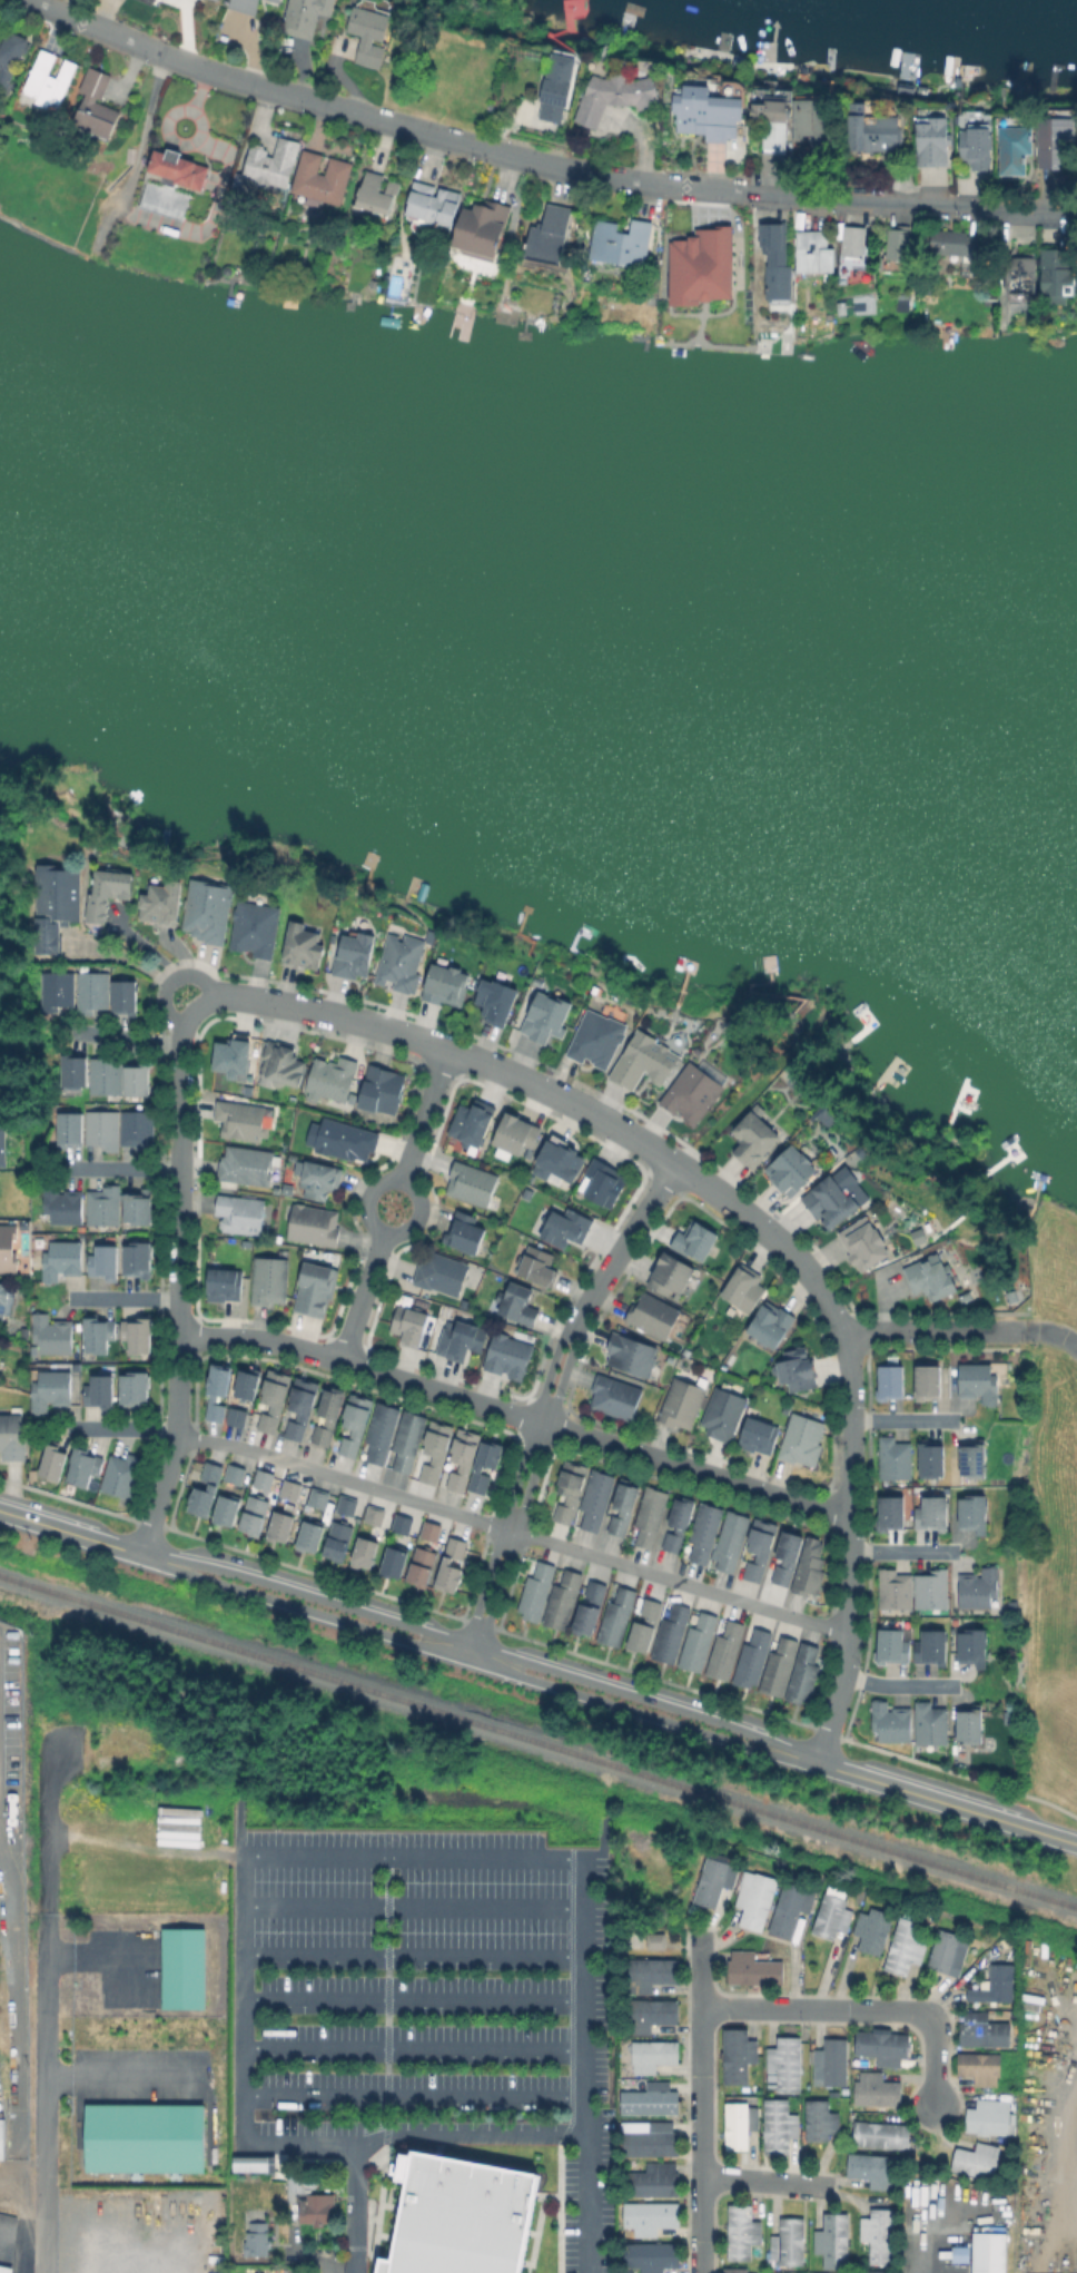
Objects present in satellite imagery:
building: (274, 1)
building: (146, 2)
building: (243, 6)
building: (304, 17)
building: (368, 36)
building: (11, 58)
building: (737, 61)
building: (49, 81)
building: (555, 90)
building: (903, 90)
building: (615, 98)
building: (95, 105)
building: (769, 112)
building: (707, 114)
building: (812, 128)
building: (872, 132)
building: (1053, 139)
building: (931, 142)
building: (975, 147)
building: (1015, 151)
road: (541, 164)
building: (268, 165)
building: (175, 171)
building: (319, 180)
building: (374, 196)
building: (429, 205)
building: (478, 232)
building: (546, 236)
building: (849, 240)
building: (897, 242)
building: (619, 244)
building: (947, 247)
building: (812, 254)
building: (774, 262)
building: (699, 266)
building: (1055, 274)
building: (1018, 277)
building: (902, 298)
building: (990, 299)
building: (840, 308)
building: (106, 888)
building: (55, 901)
building: (159, 901)
building: (206, 907)
building: (251, 928)
building: (299, 946)
building: (352, 955)
building: (398, 963)
road: (137, 966)
building: (444, 984)
building: (55, 986)
building: (91, 988)
building: (125, 994)
building: (493, 1001)
building: (543, 1017)
road: (125, 1039)
building: (593, 1039)
building: (233, 1049)
building: (645, 1057)
building: (278, 1065)
building: (73, 1067)
building: (105, 1071)
building: (137, 1074)
building: (328, 1079)
road: (534, 1085)
building: (378, 1089)
building: (692, 1094)
road: (424, 1115)
building: (241, 1119)
building: (470, 1122)
building: (67, 1129)
building: (99, 1129)
building: (135, 1129)
building: (513, 1135)
building: (755, 1135)
building: (339, 1140)
building: (2, 1142)
building: (555, 1160)
building: (245, 1164)
building: (792, 1165)
road: (123, 1169)
building: (315, 1178)
road: (401, 1181)
building: (599, 1182)
building: (468, 1183)
building: (276, 1189)
building: (831, 1198)
building: (59, 1204)
building: (100, 1206)
building: (135, 1209)
building: (239, 1211)
building: (310, 1224)
building: (563, 1227)
building: (462, 1231)
building: (696, 1237)
building: (36, 1242)
building: (866, 1242)
building: (8, 1246)
building: (136, 1256)
building: (61, 1257)
building: (102, 1257)
building: (535, 1266)
building: (442, 1270)
building: (671, 1271)
building: (932, 1276)
building: (224, 1280)
building: (267, 1280)
building: (743, 1286)
building: (313, 1289)
building: (966, 1295)
building: (1012, 1295)
road: (362, 1297)
road: (122, 1298)
road: (177, 1302)
building: (3, 1303)
building: (515, 1303)
building: (652, 1312)
building: (773, 1321)
building: (409, 1322)
road: (933, 1329)
building: (98, 1330)
building: (137, 1332)
building: (23, 1334)
building: (51, 1334)
road: (1051, 1335)
building: (461, 1337)
building: (631, 1352)
building: (508, 1354)
building: (797, 1366)
building: (929, 1377)
building: (891, 1379)
building: (245, 1380)
building: (979, 1380)
building: (134, 1385)
building: (49, 1387)
building: (217, 1388)
building: (98, 1389)
building: (615, 1395)
building: (274, 1398)
road: (547, 1401)
building: (681, 1403)
building: (300, 1407)
building: (724, 1409)
building: (328, 1411)
building: (236, 1414)
road: (515, 1415)
road: (903, 1421)
building: (354, 1424)
road: (121, 1428)
building: (381, 1429)
building: (760, 1433)
building: (12, 1437)
building: (408, 1438)
building: (802, 1439)
building: (436, 1449)
building: (896, 1456)
building: (932, 1456)
building: (976, 1456)
building: (462, 1458)
building: (55, 1462)
building: (81, 1463)
building: (480, 1465)
building: (121, 1473)
building: (234, 1473)
building: (264, 1477)
building: (289, 1487)
building: (205, 1488)
building: (570, 1489)
building: (318, 1495)
building: (597, 1498)
building: (346, 1503)
building: (227, 1507)
building: (623, 1507)
building: (891, 1509)
building: (932, 1511)
building: (974, 1511)
building: (253, 1512)
building: (374, 1512)
building: (652, 1515)
building: (679, 1519)
building: (403, 1522)
building: (279, 1524)
building: (705, 1528)
building: (429, 1529)
road: (513, 1532)
building: (310, 1533)
road: (70, 1534)
building: (338, 1539)
building: (731, 1539)
building: (760, 1546)
road: (850, 1548)
building: (364, 1549)
road: (901, 1549)
building: (787, 1554)
building: (395, 1558)
building: (422, 1564)
building: (452, 1565)
building: (811, 1566)
building: (979, 1586)
building: (897, 1587)
building: (933, 1587)
building: (535, 1590)
building: (563, 1597)
building: (590, 1605)
building: (1015, 1605)
building: (617, 1615)
building: (645, 1622)
building: (671, 1633)
building: (700, 1641)
building: (913, 1645)
building: (975, 1645)
road: (482, 1650)
building: (727, 1650)
building: (752, 1657)
road: (477, 1664)
building: (778, 1666)
building: (806, 1673)
road: (899, 1685)
building: (893, 1720)
building: (931, 1722)
building: (972, 1723)
road: (12, 1729)
railway: (537, 1742)
road: (947, 1804)
road: (7, 1822)
road: (355, 1853)
building: (717, 1878)
building: (755, 1899)
road: (411, 1905)
building: (792, 1906)
building: (832, 1915)
building: (875, 1929)
building: (653, 1940)
building: (903, 1945)
building: (949, 1951)
road: (412, 1955)
road: (91, 1959)
building: (753, 1966)
building: (186, 1970)
building: (654, 1972)
building: (996, 1984)
road: (14, 1998)
parking lot: (431, 1998)
road: (412, 2001)
road: (43, 2006)
road: (859, 2007)
building: (652, 2013)
building: (984, 2029)
building: (883, 2046)
road: (413, 2050)
building: (740, 2054)
building: (654, 2055)
building: (831, 2062)
building: (787, 2063)
building: (981, 2067)
road: (119, 2074)
building: (877, 2089)
road: (413, 2096)
building: (655, 2098)
road: (699, 2103)
building: (988, 2117)
building: (821, 2119)
building: (740, 2123)
building: (779, 2125)
road: (466, 2133)
building: (883, 2135)
building: (144, 2136)
building: (1, 2138)
building: (654, 2139)
building: (978, 2161)
road: (1061, 2162)
building: (251, 2163)
building: (873, 2167)
road: (1069, 2168)
road: (30, 2172)
building: (654, 2179)
road: (764, 2183)
building: (307, 2197)
road: (14, 2214)
building: (456, 2215)
building: (651, 2216)
building: (743, 2233)
building: (879, 2234)
building: (258, 2240)
building: (833, 2241)
building: (790, 2242)
road: (922, 2249)
building: (987, 2252)
building: (957, 2253)
building: (652, 2256)
road: (340, 2267)
building: (4, 2270)
building: (735, 2270)
building: (876, 2271)

